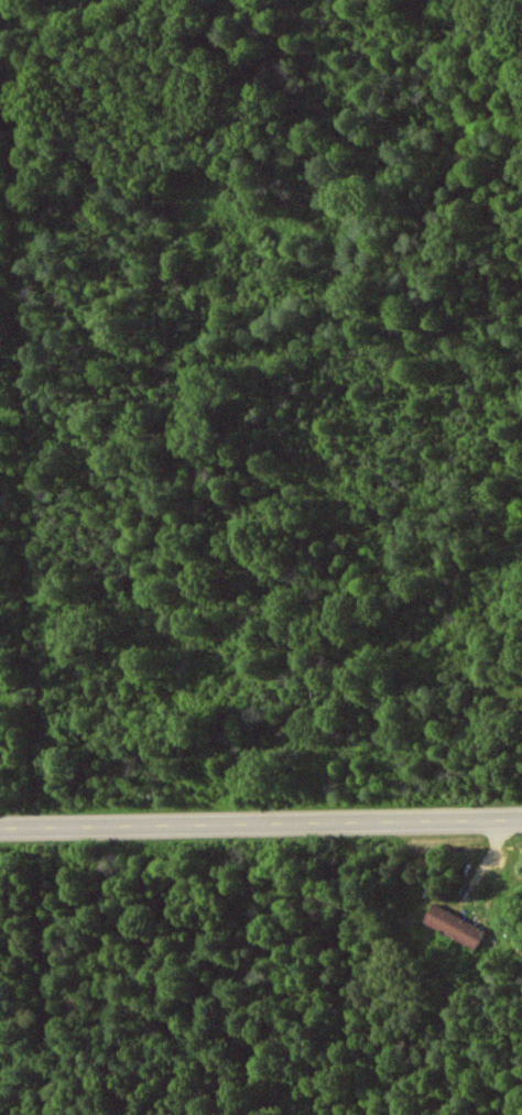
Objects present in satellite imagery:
road: (261, 826)
building: (453, 927)

